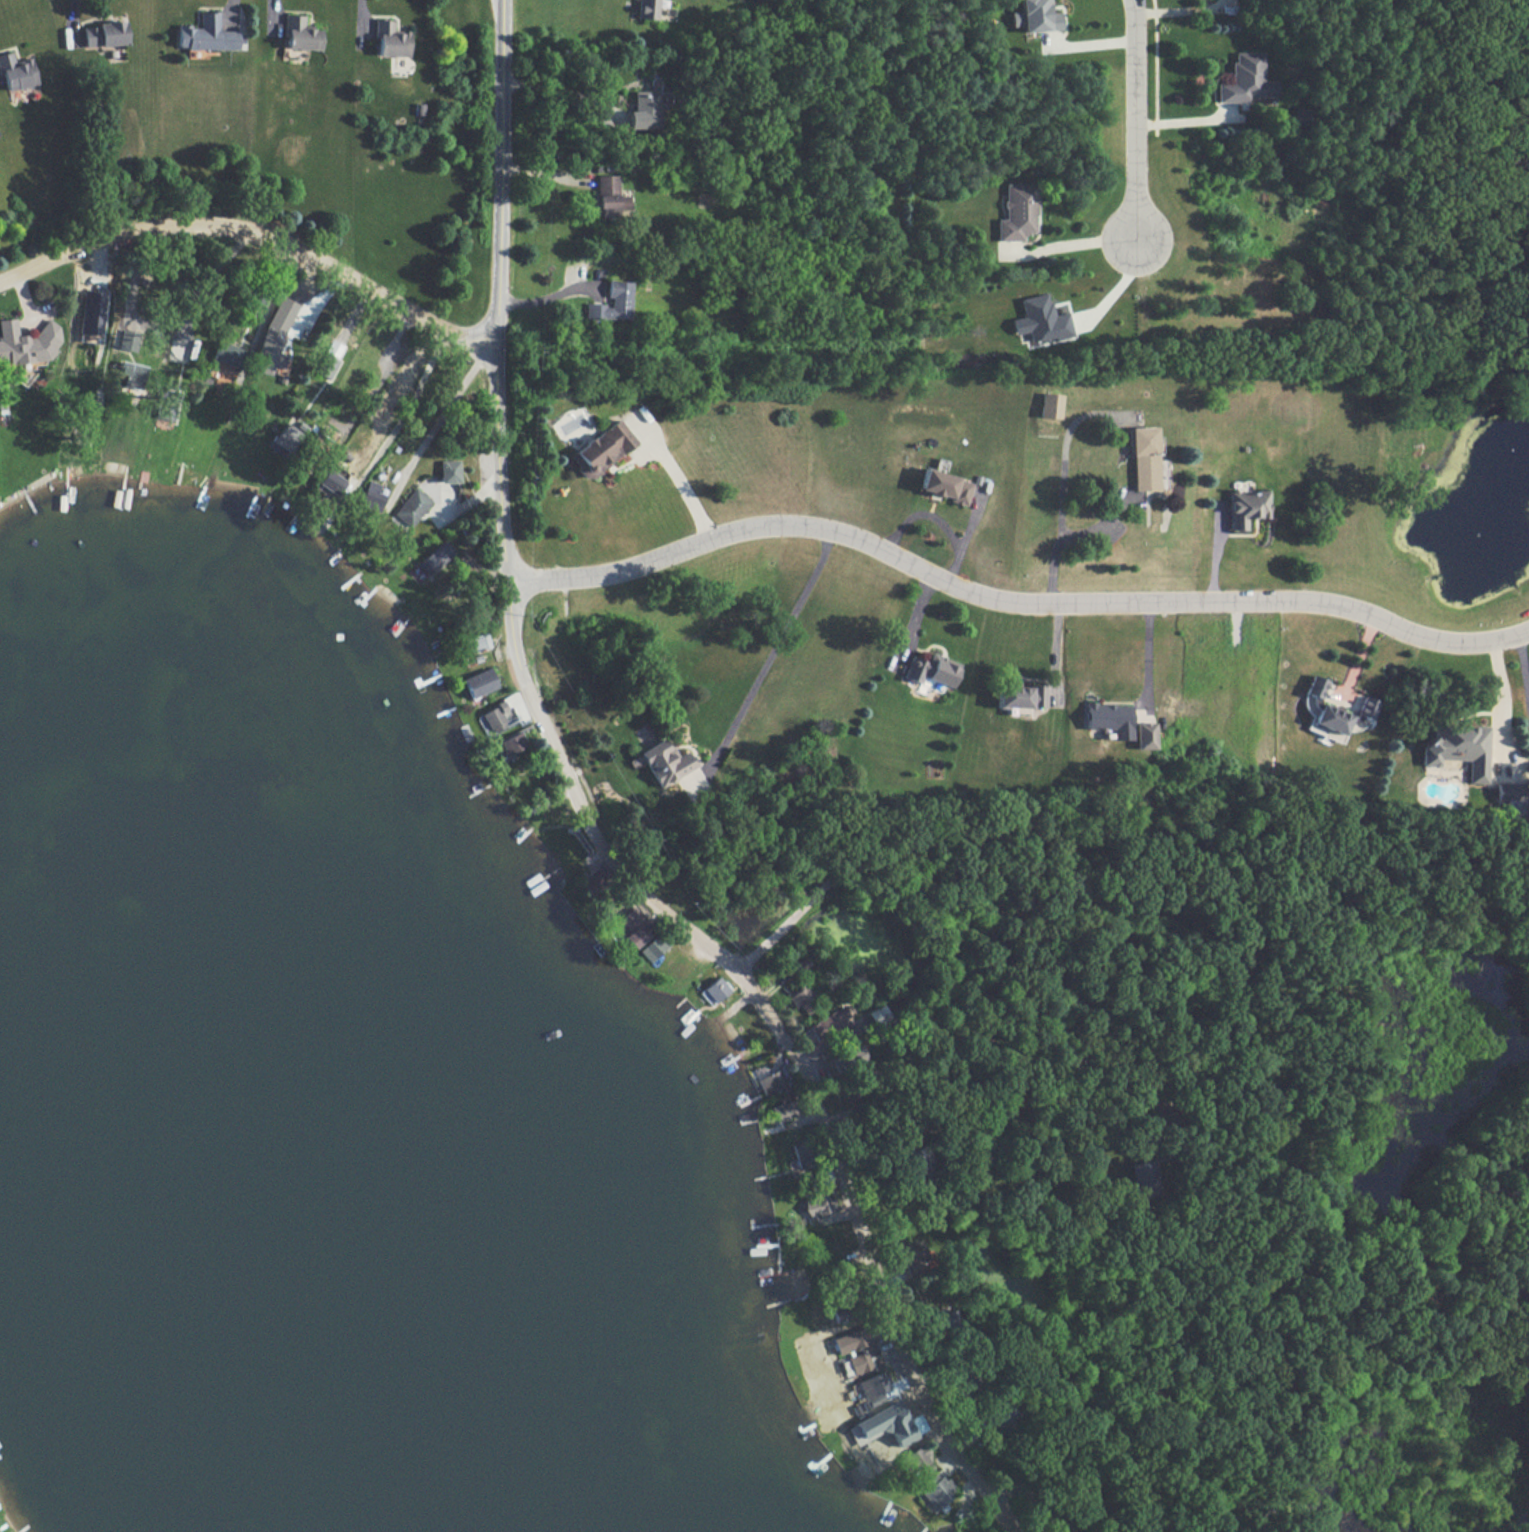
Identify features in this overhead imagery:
building: (648, 8)
road: (1184, 10)
building: (1037, 16)
road: (70, 22)
road: (360, 23)
building: (103, 34)
building: (301, 34)
building: (206, 35)
building: (390, 40)
building: (16, 72)
building: (1246, 81)
building: (646, 106)
road: (1138, 125)
building: (609, 197)
building: (1016, 213)
road: (259, 229)
road: (139, 271)
road: (201, 283)
road: (550, 296)
road: (273, 298)
road: (1115, 301)
building: (613, 302)
building: (90, 312)
building: (1039, 320)
building: (273, 336)
building: (127, 341)
building: (25, 343)
building: (227, 355)
building: (328, 358)
building: (131, 374)
building: (1050, 405)
road: (404, 411)
building: (289, 436)
building: (602, 448)
building: (1144, 458)
building: (449, 471)
building: (332, 482)
building: (944, 486)
road: (684, 489)
building: (372, 496)
building: (412, 507)
building: (1245, 507)
road: (936, 519)
road: (1063, 536)
building: (437, 558)
road: (1008, 600)
building: (475, 641)
road: (772, 649)
road: (1148, 656)
building: (930, 670)
road: (1523, 671)
building: (480, 683)
road: (1501, 707)
building: (504, 713)
building: (1334, 713)
building: (1110, 719)
building: (1145, 735)
building: (514, 743)
building: (1459, 750)
building: (665, 762)
building: (1509, 798)
road: (587, 825)
building: (634, 926)
building: (653, 948)
building: (714, 990)
building: (800, 1000)
building: (826, 1023)
road: (1238, 1084)
building: (782, 1112)
building: (801, 1155)
building: (1145, 1179)
building: (816, 1206)
building: (915, 1260)
building: (850, 1342)
building: (857, 1362)
building: (872, 1388)
building: (882, 1425)
building: (916, 1458)
building: (934, 1489)
road: (1032, 1501)

